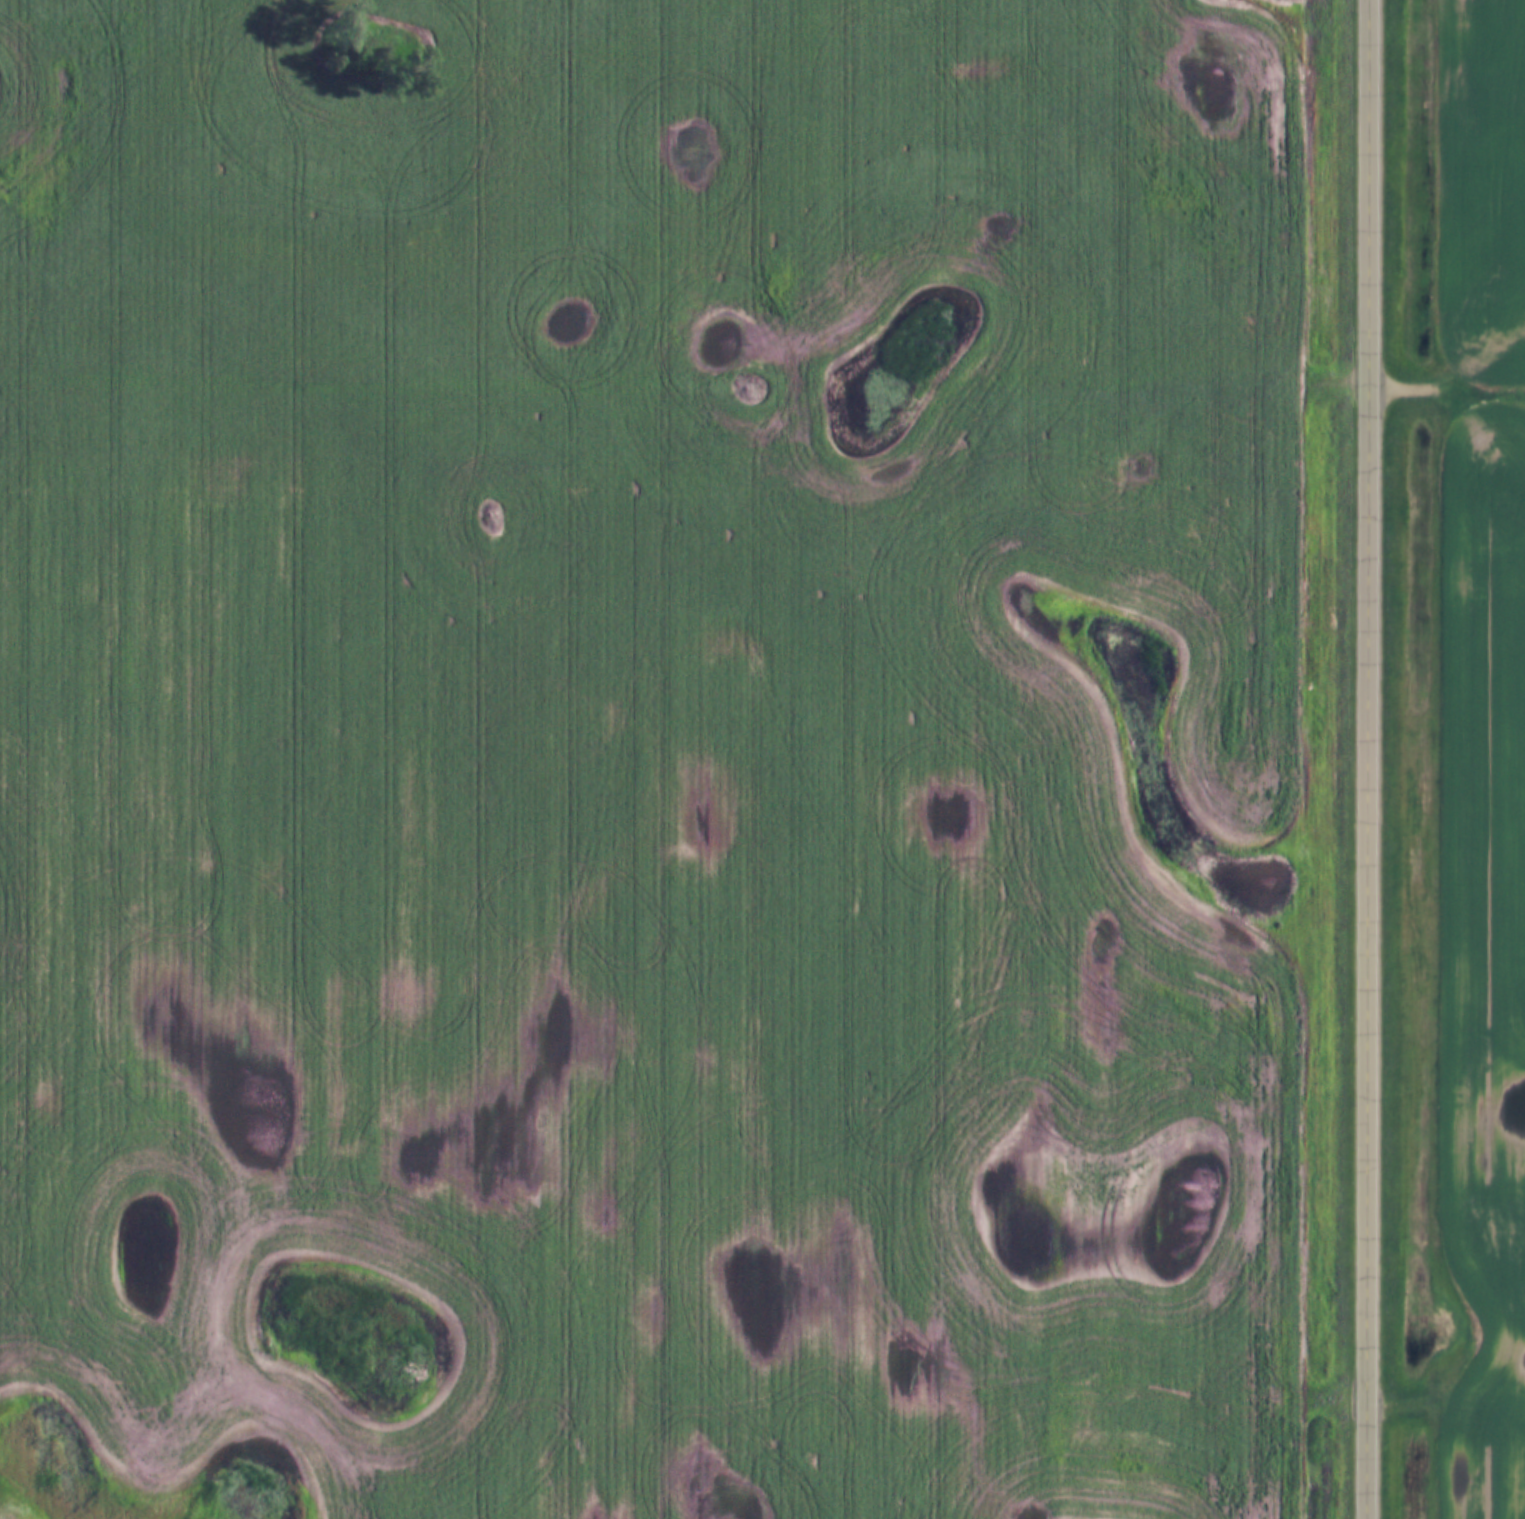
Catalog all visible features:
road: (1369, 759)

